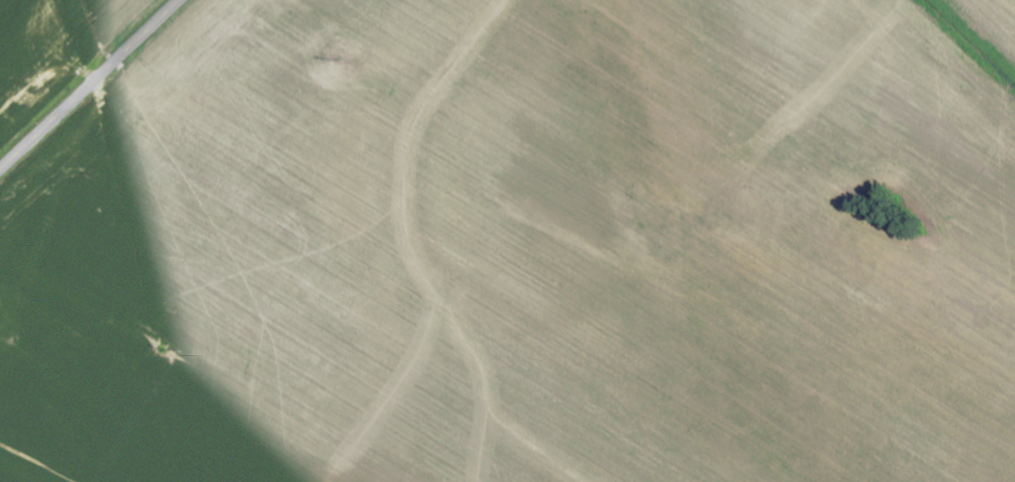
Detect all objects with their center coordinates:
road: (89, 84)

